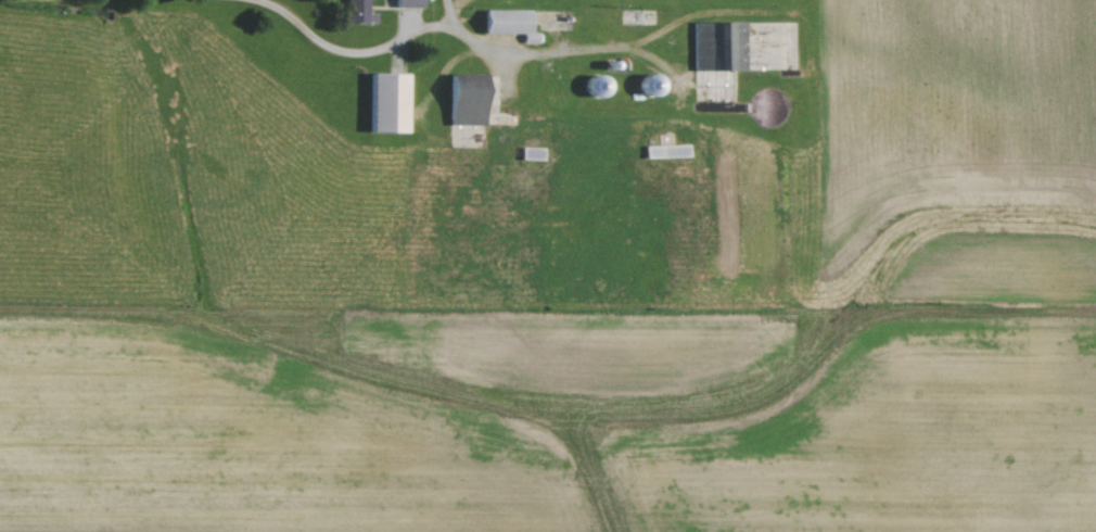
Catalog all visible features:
building: (405, 4)
building: (354, 12)
building: (501, 24)
road: (357, 52)
road: (533, 58)
building: (384, 104)

